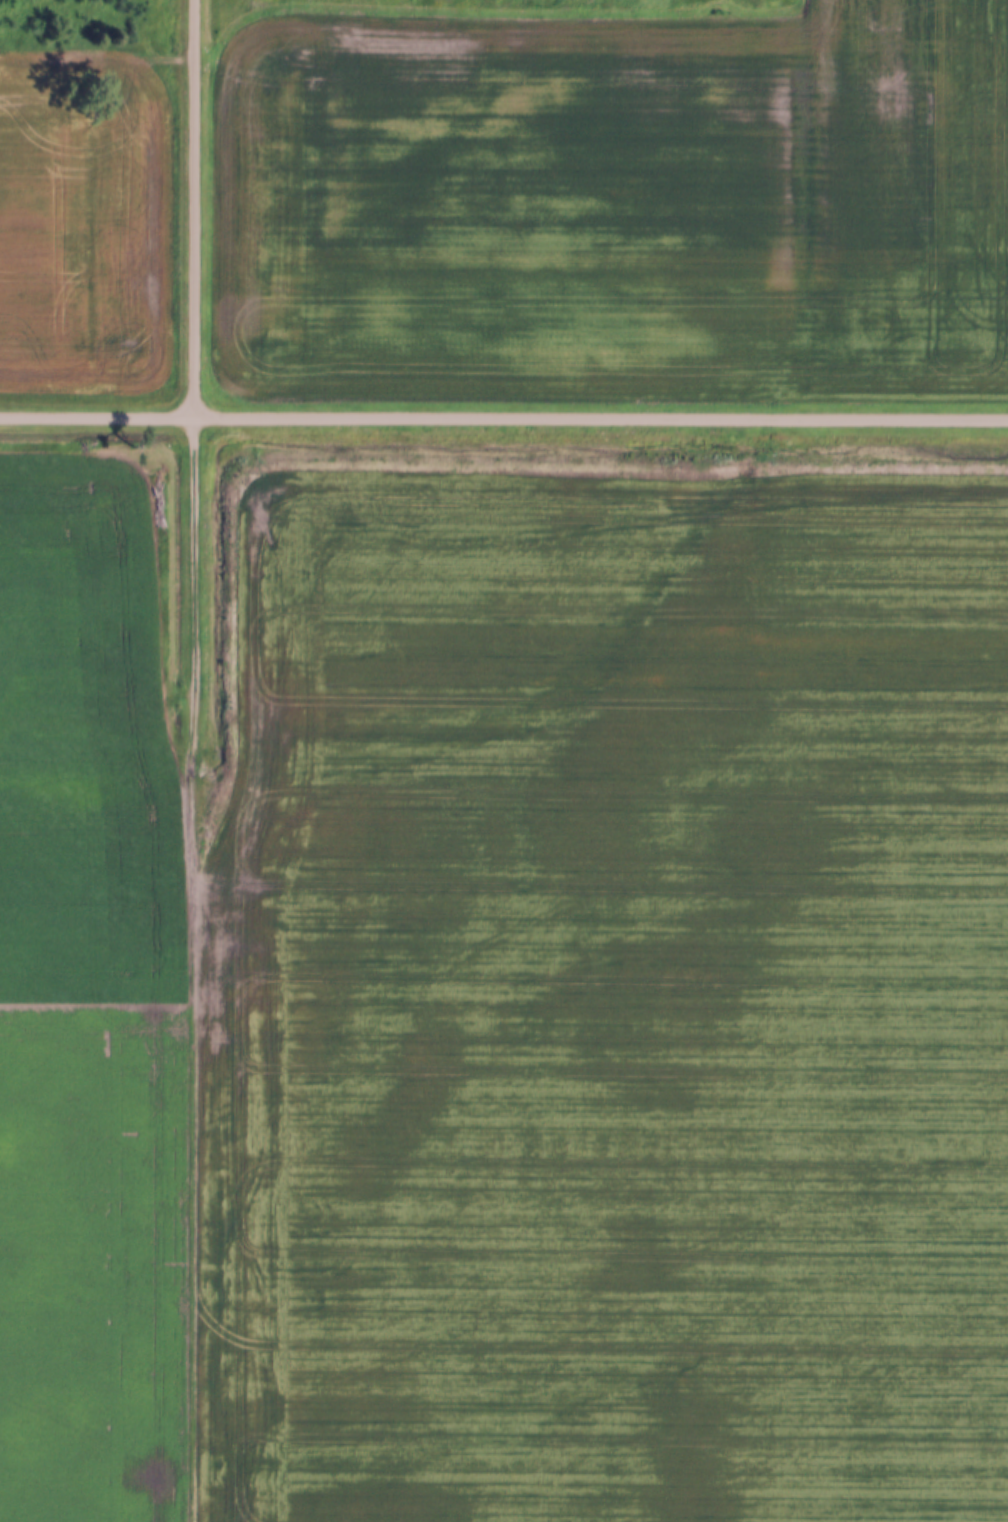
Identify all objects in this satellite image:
road: (195, 209)
road: (503, 419)
road: (199, 970)

